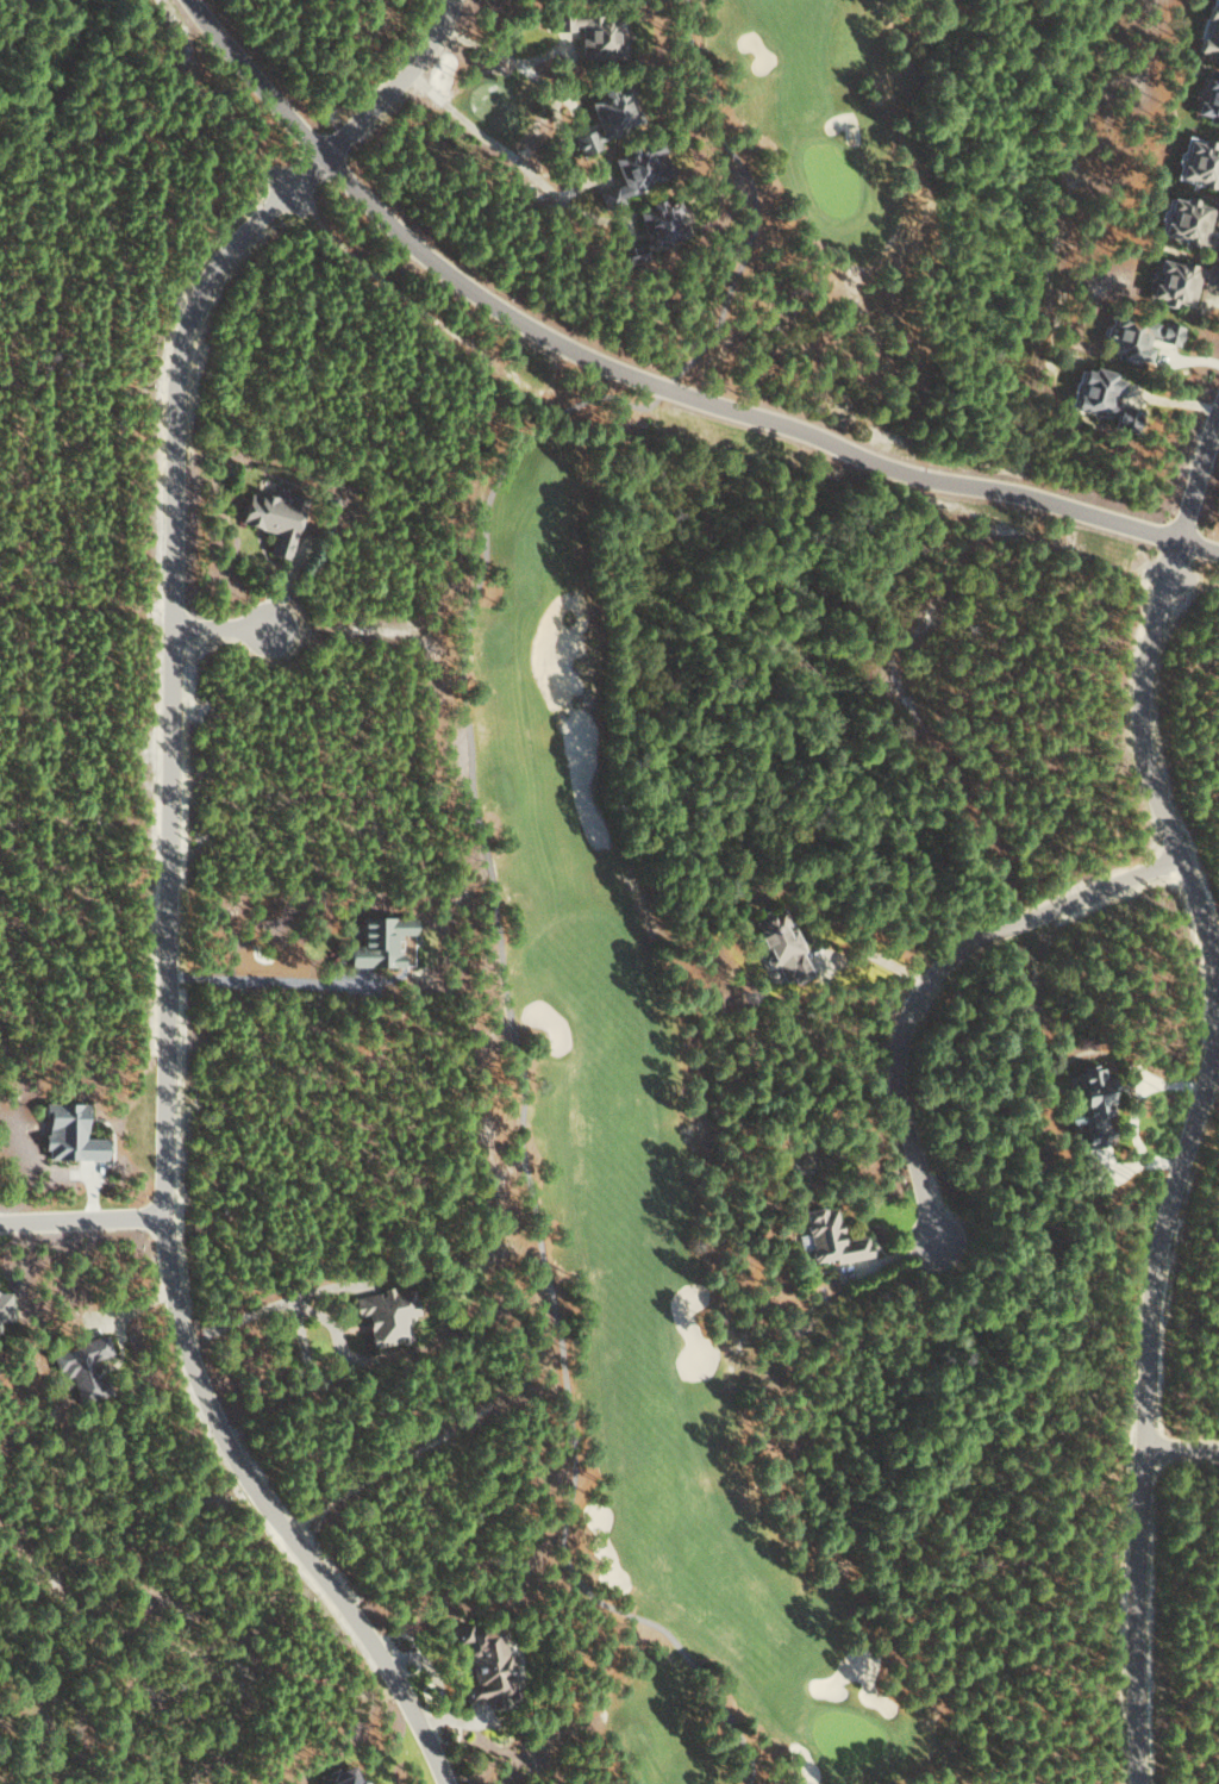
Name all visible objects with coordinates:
building: (590, 31)
building: (1208, 31)
road: (495, 54)
road: (390, 86)
building: (1208, 100)
building: (606, 118)
building: (1199, 163)
building: (633, 170)
building: (1188, 223)
building: (654, 230)
building: (1179, 280)
building: (1137, 337)
road: (639, 380)
building: (1102, 398)
road: (1194, 473)
building: (271, 518)
road: (218, 629)
building: (376, 942)
building: (781, 950)
park: (669, 969)
road: (925, 975)
road: (163, 983)
building: (1095, 1119)
building: (68, 1133)
road: (1175, 1156)
road: (81, 1218)
building: (829, 1237)
building: (5, 1306)
building: (385, 1315)
building: (81, 1366)
road: (1176, 1448)
building: (483, 1664)
building: (339, 1776)

